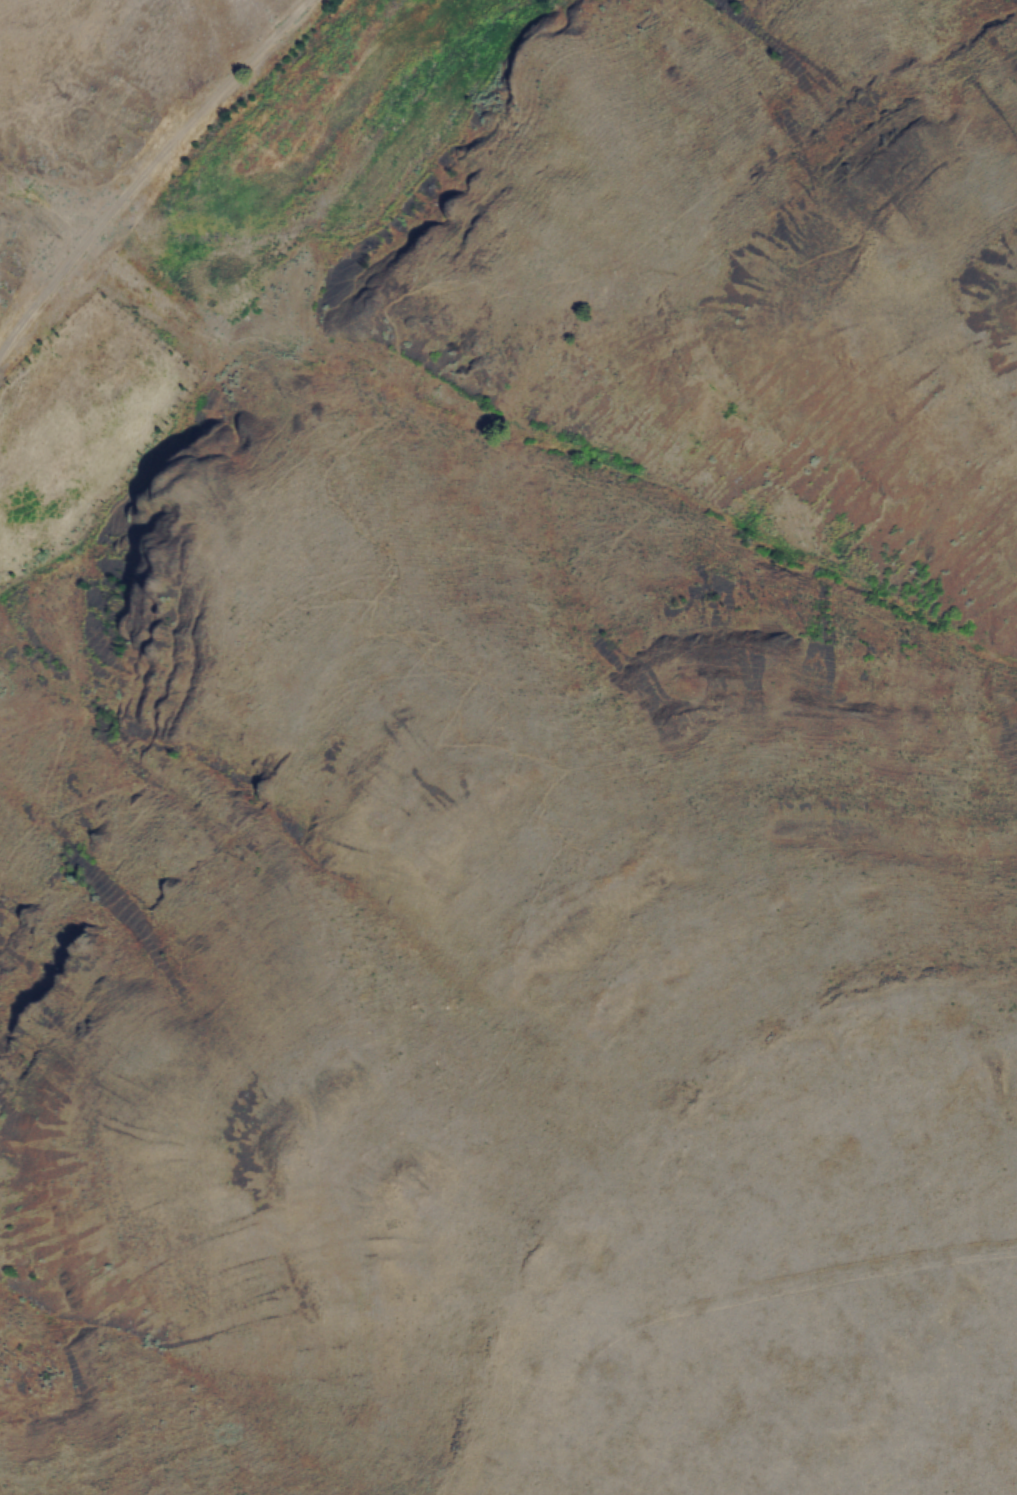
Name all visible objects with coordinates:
road: (158, 175)

